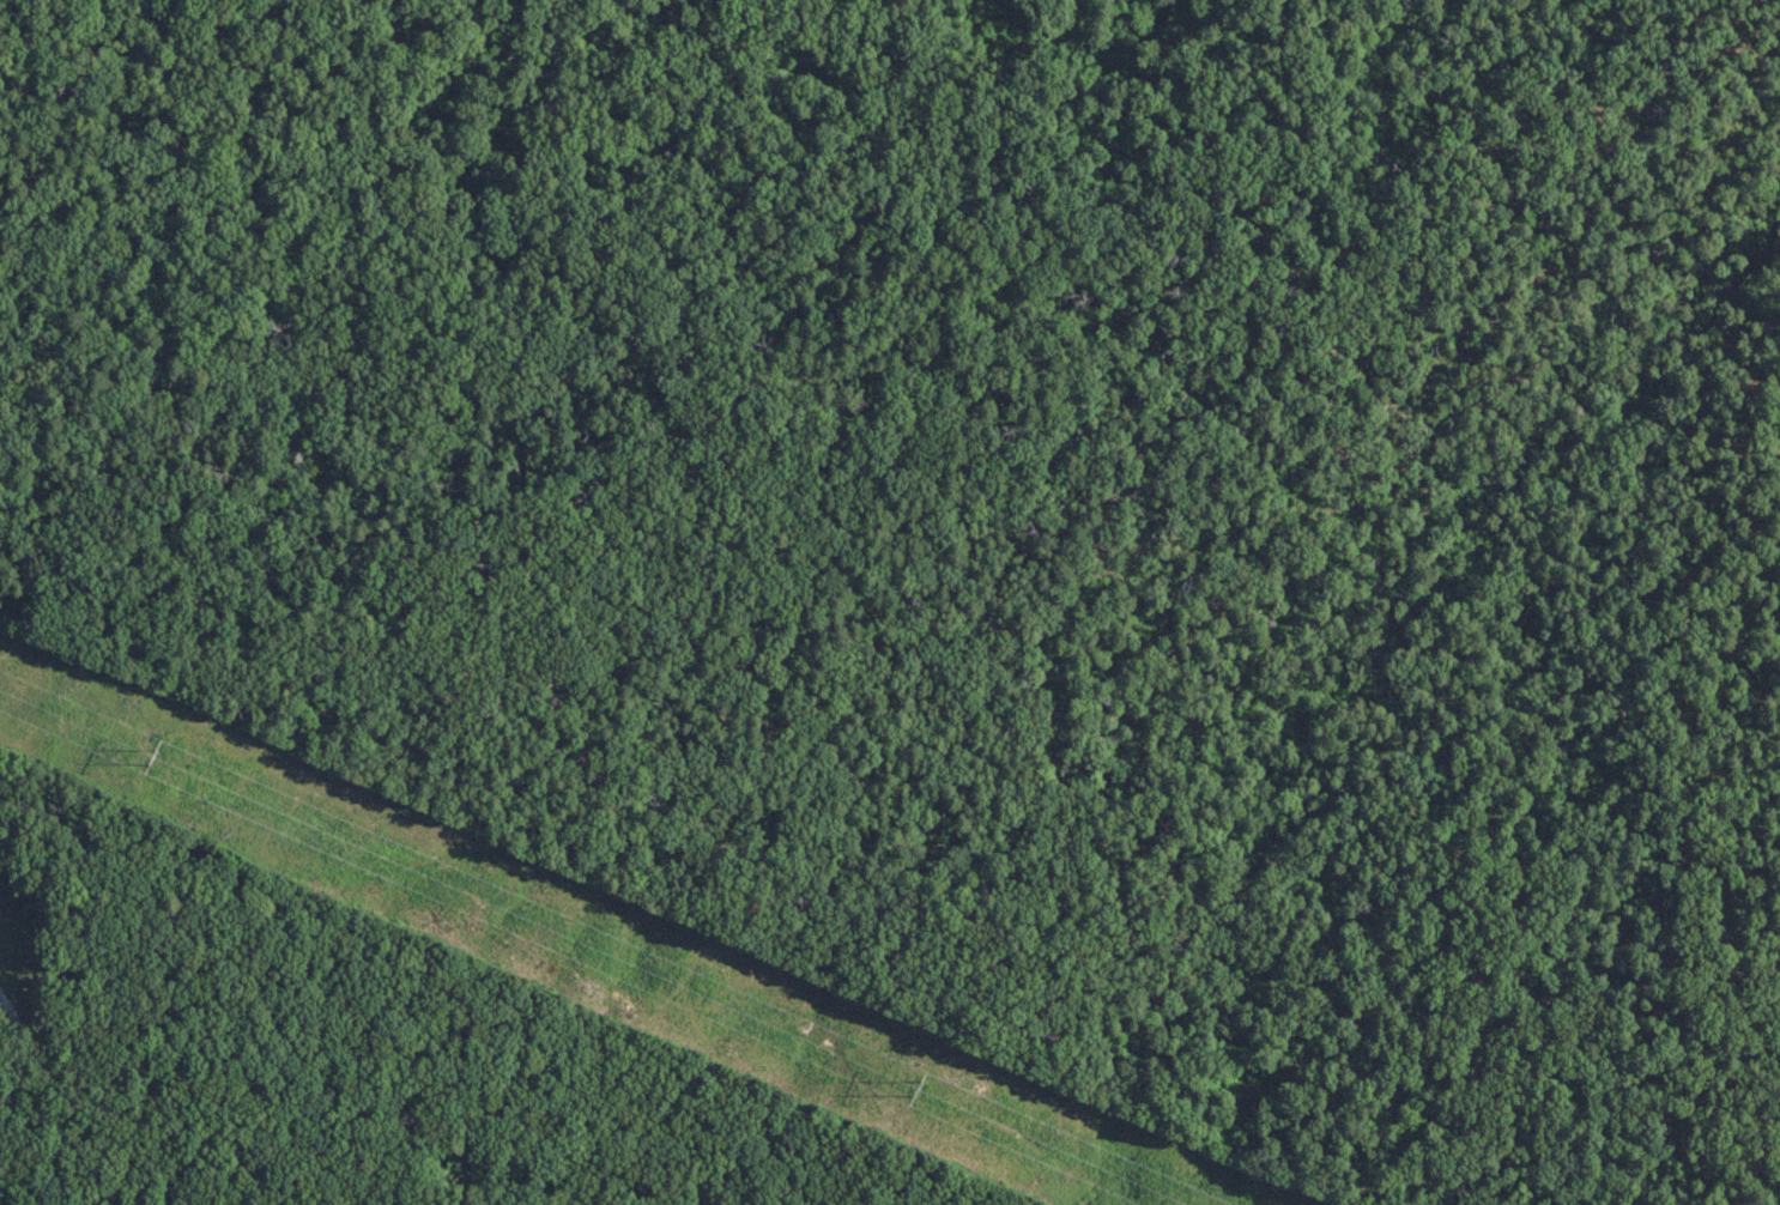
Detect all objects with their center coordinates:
power tower: (150, 752)
power tower: (912, 1084)

